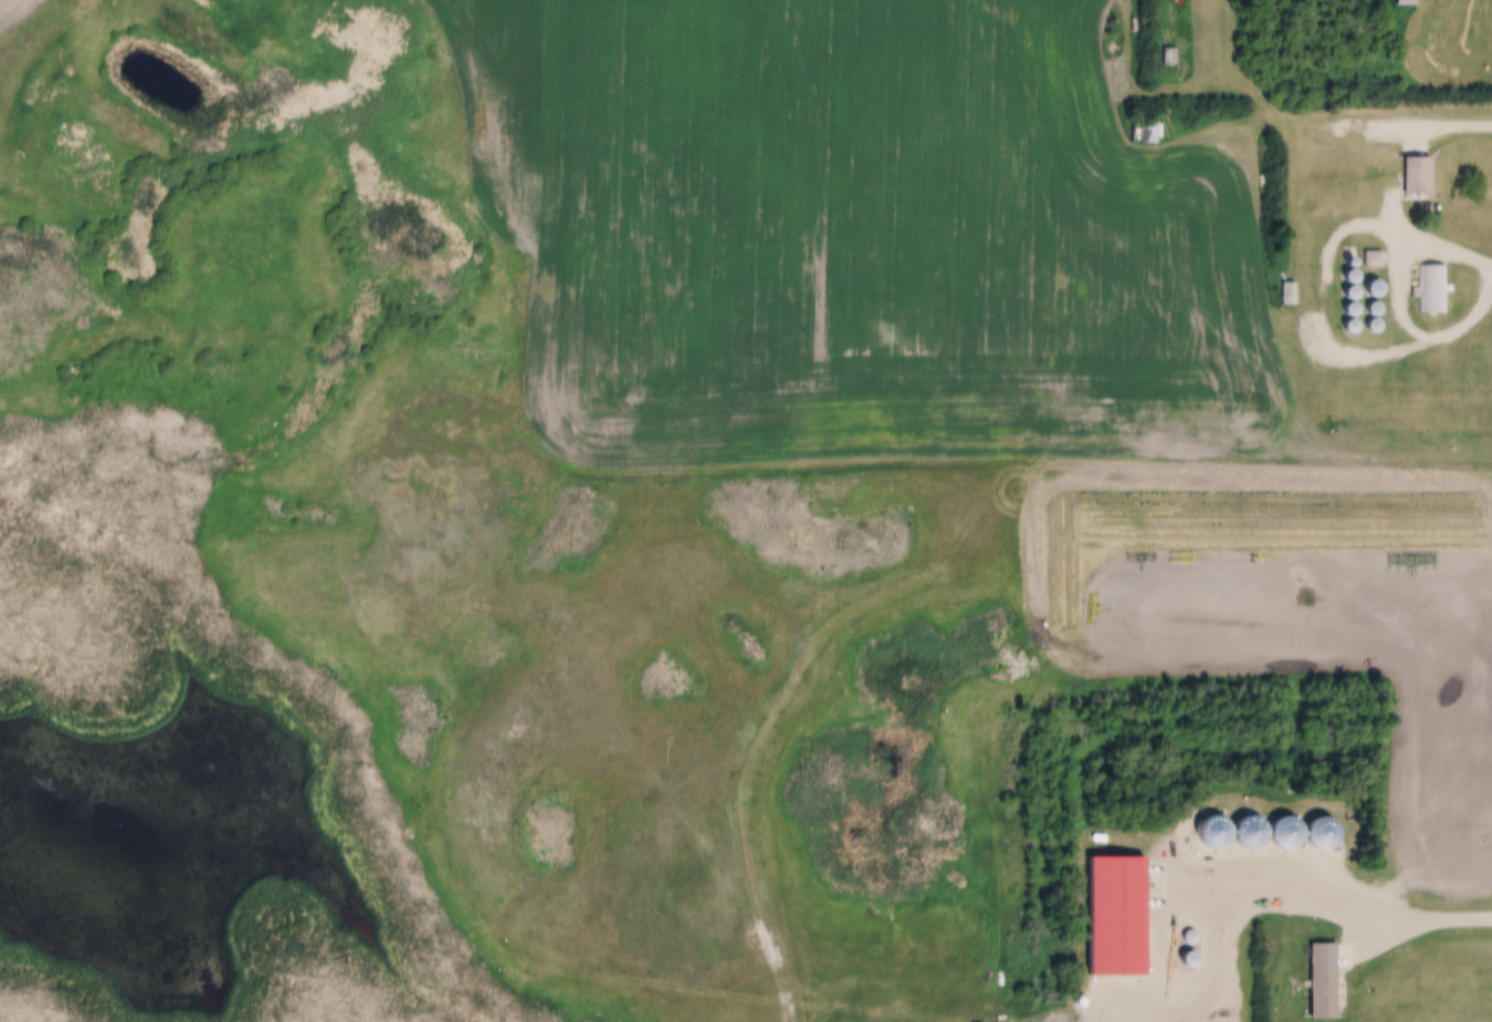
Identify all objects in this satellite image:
building: (1405, 3)
building: (1169, 58)
road: (1410, 126)
building: (1146, 130)
building: (1418, 178)
road: (1403, 278)
building: (1434, 292)
building: (1290, 296)
building: (1319, 831)
road: (1355, 907)
building: (1190, 939)
building: (1189, 963)
building: (1323, 984)
road: (1171, 995)

